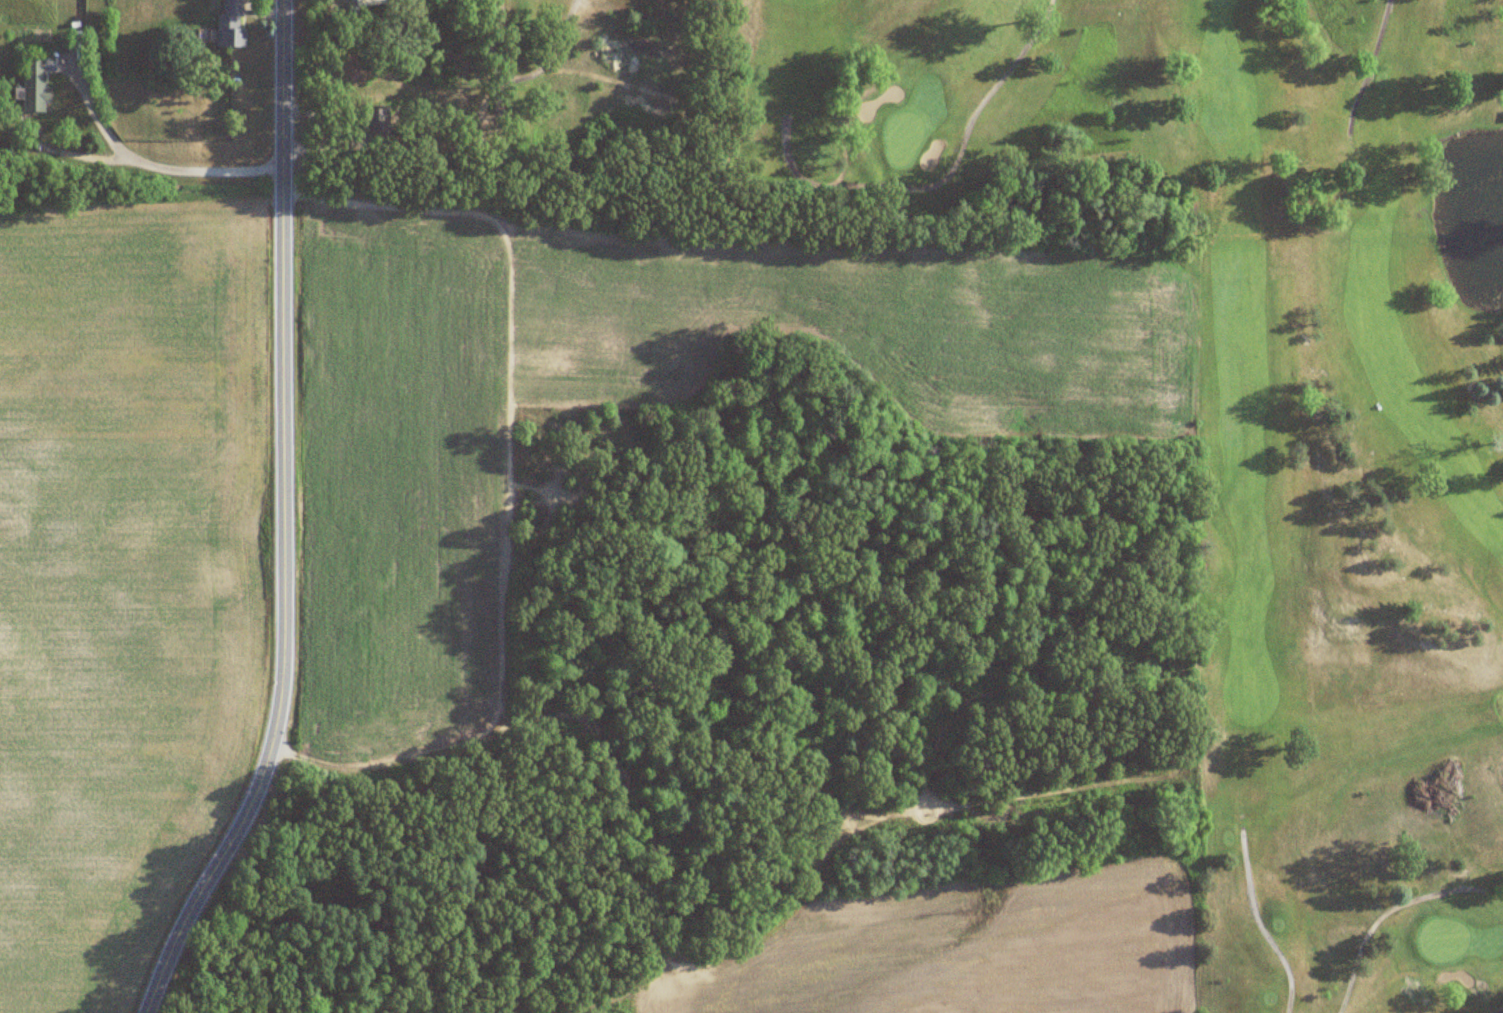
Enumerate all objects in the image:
road: (266, 13)
building: (230, 23)
road: (1370, 68)
road: (522, 77)
building: (35, 84)
road: (486, 119)
building: (369, 125)
road: (84, 155)
road: (157, 161)
road: (941, 179)
road: (290, 522)
park: (1345, 603)
road: (1381, 916)
road: (1258, 924)
road: (1498, 1010)

